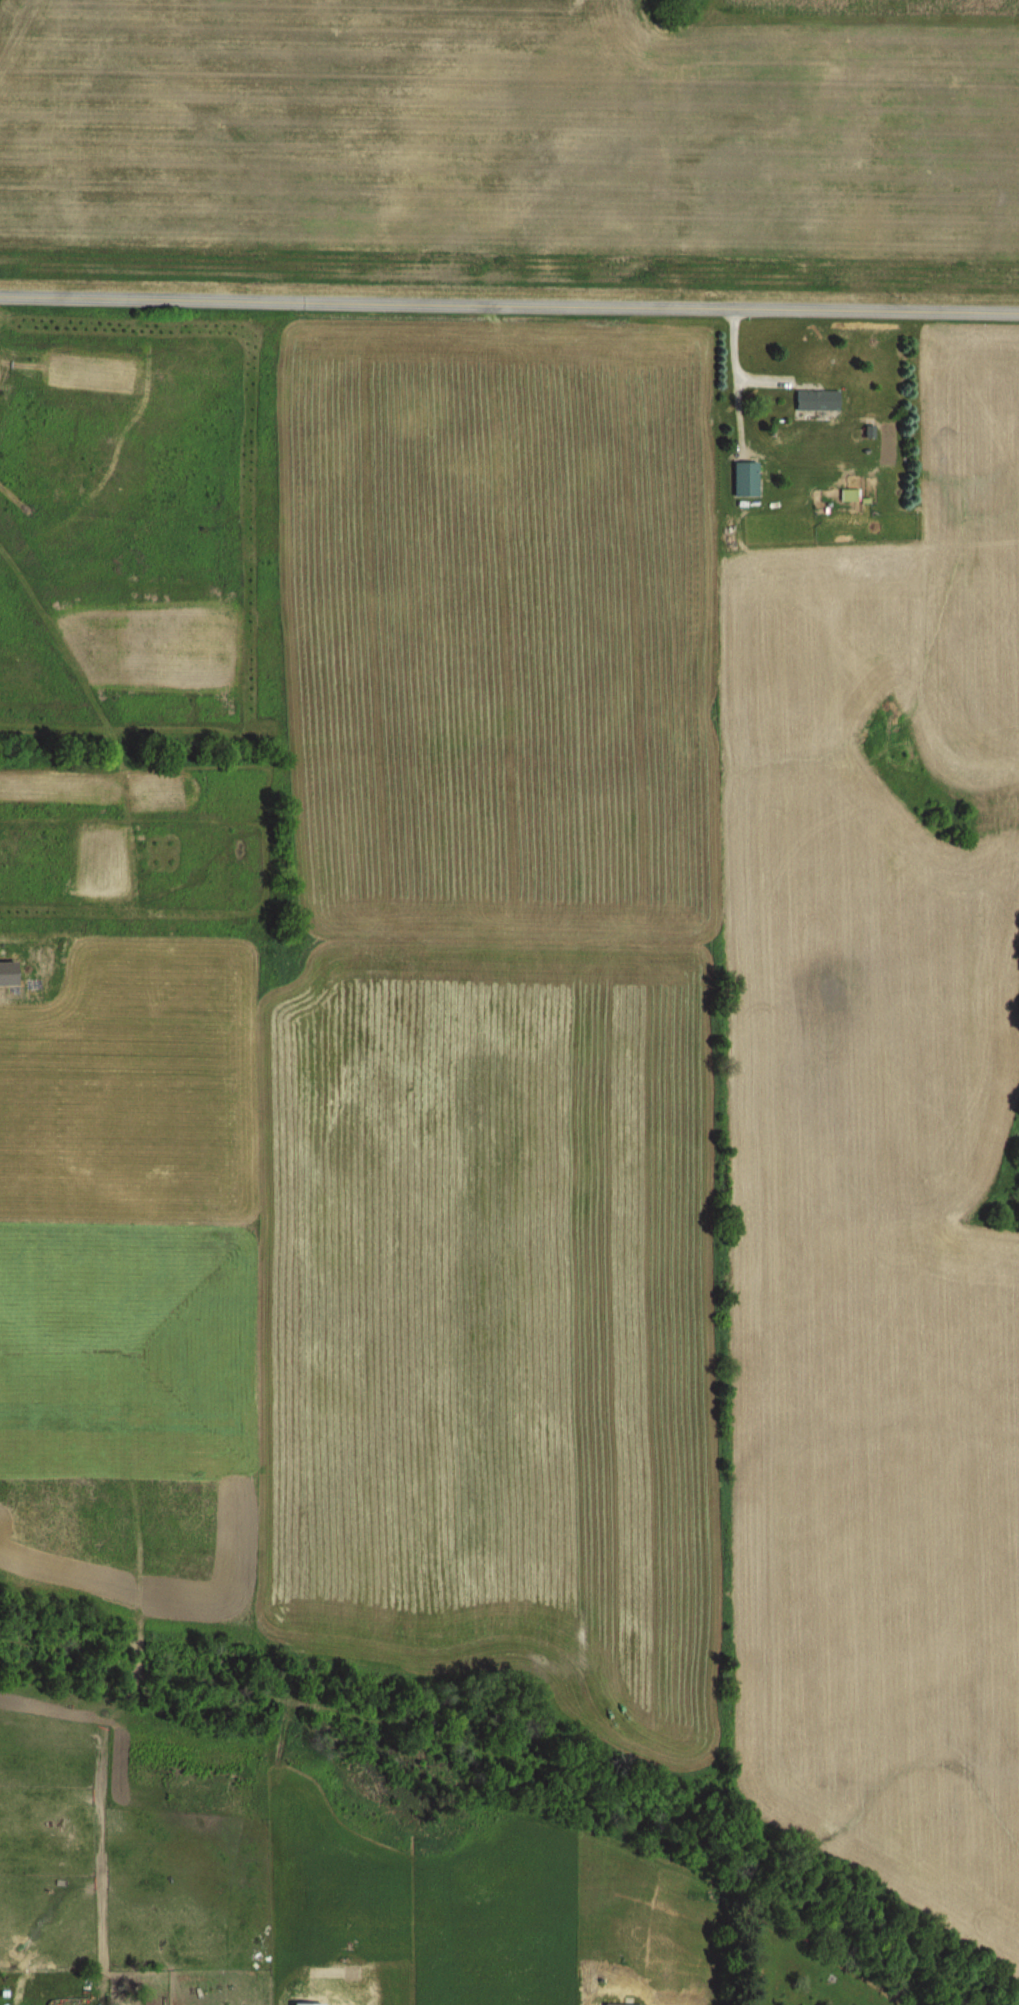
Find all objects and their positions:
road: (509, 304)
road: (730, 378)
building: (814, 400)
building: (743, 478)
building: (118, 1978)
building: (619, 2003)

